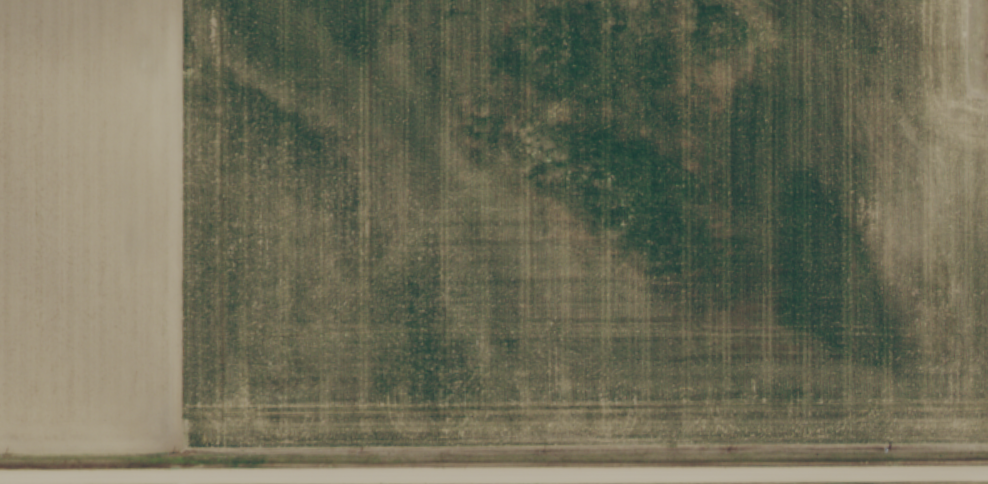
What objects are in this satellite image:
road: (494, 476)

